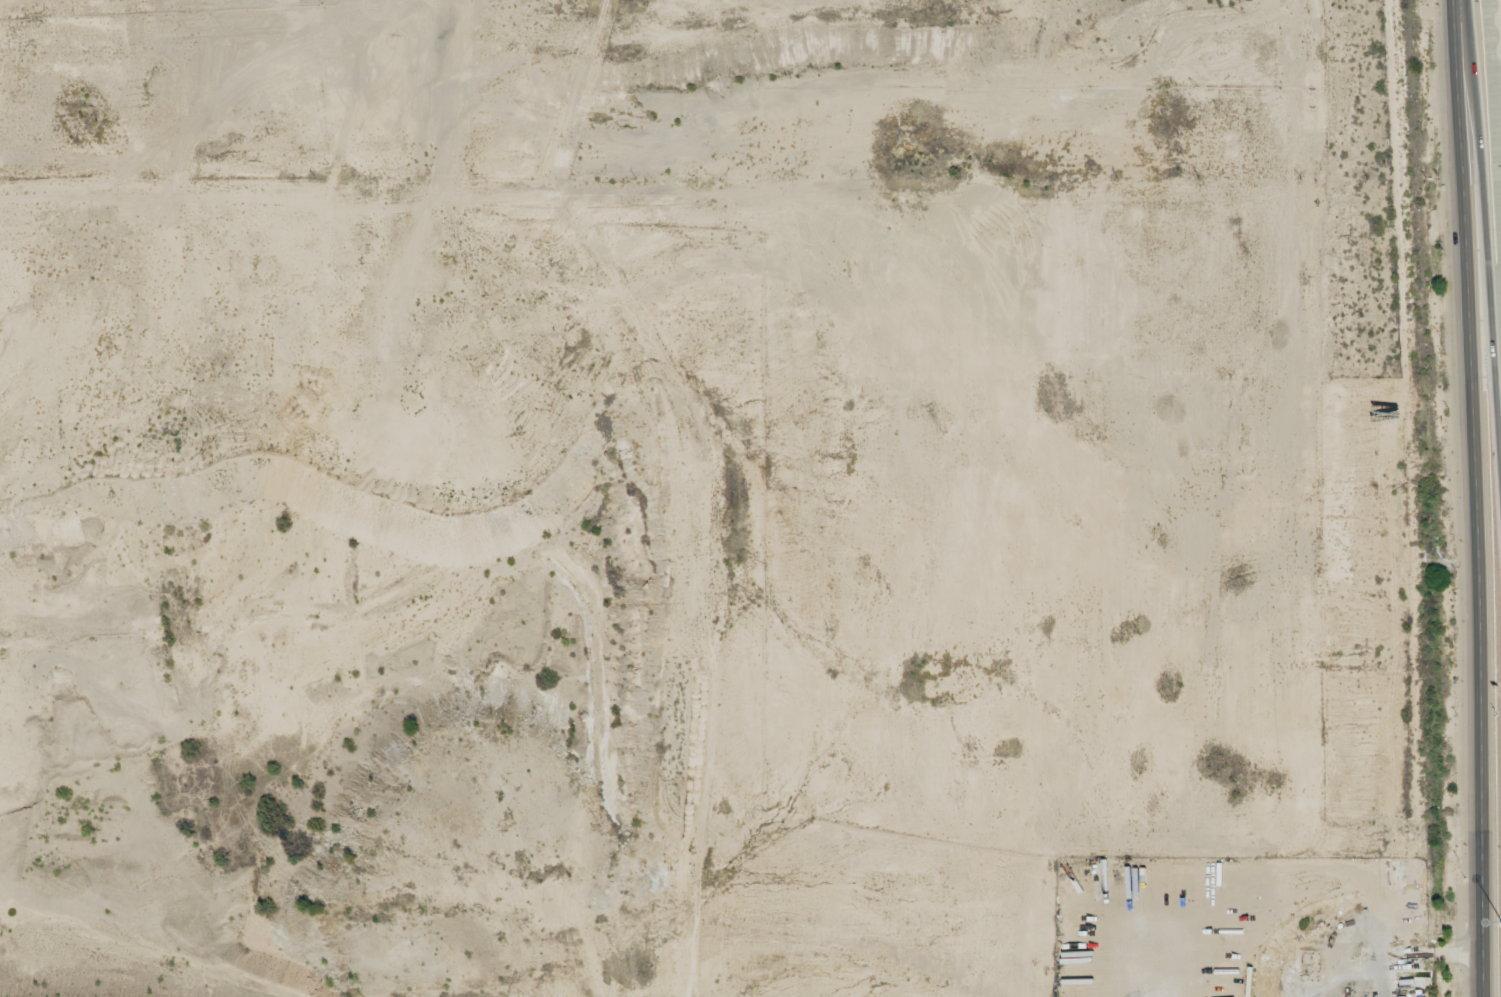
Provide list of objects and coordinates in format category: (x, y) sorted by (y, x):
road: (1490, 200)
road: (1478, 498)

